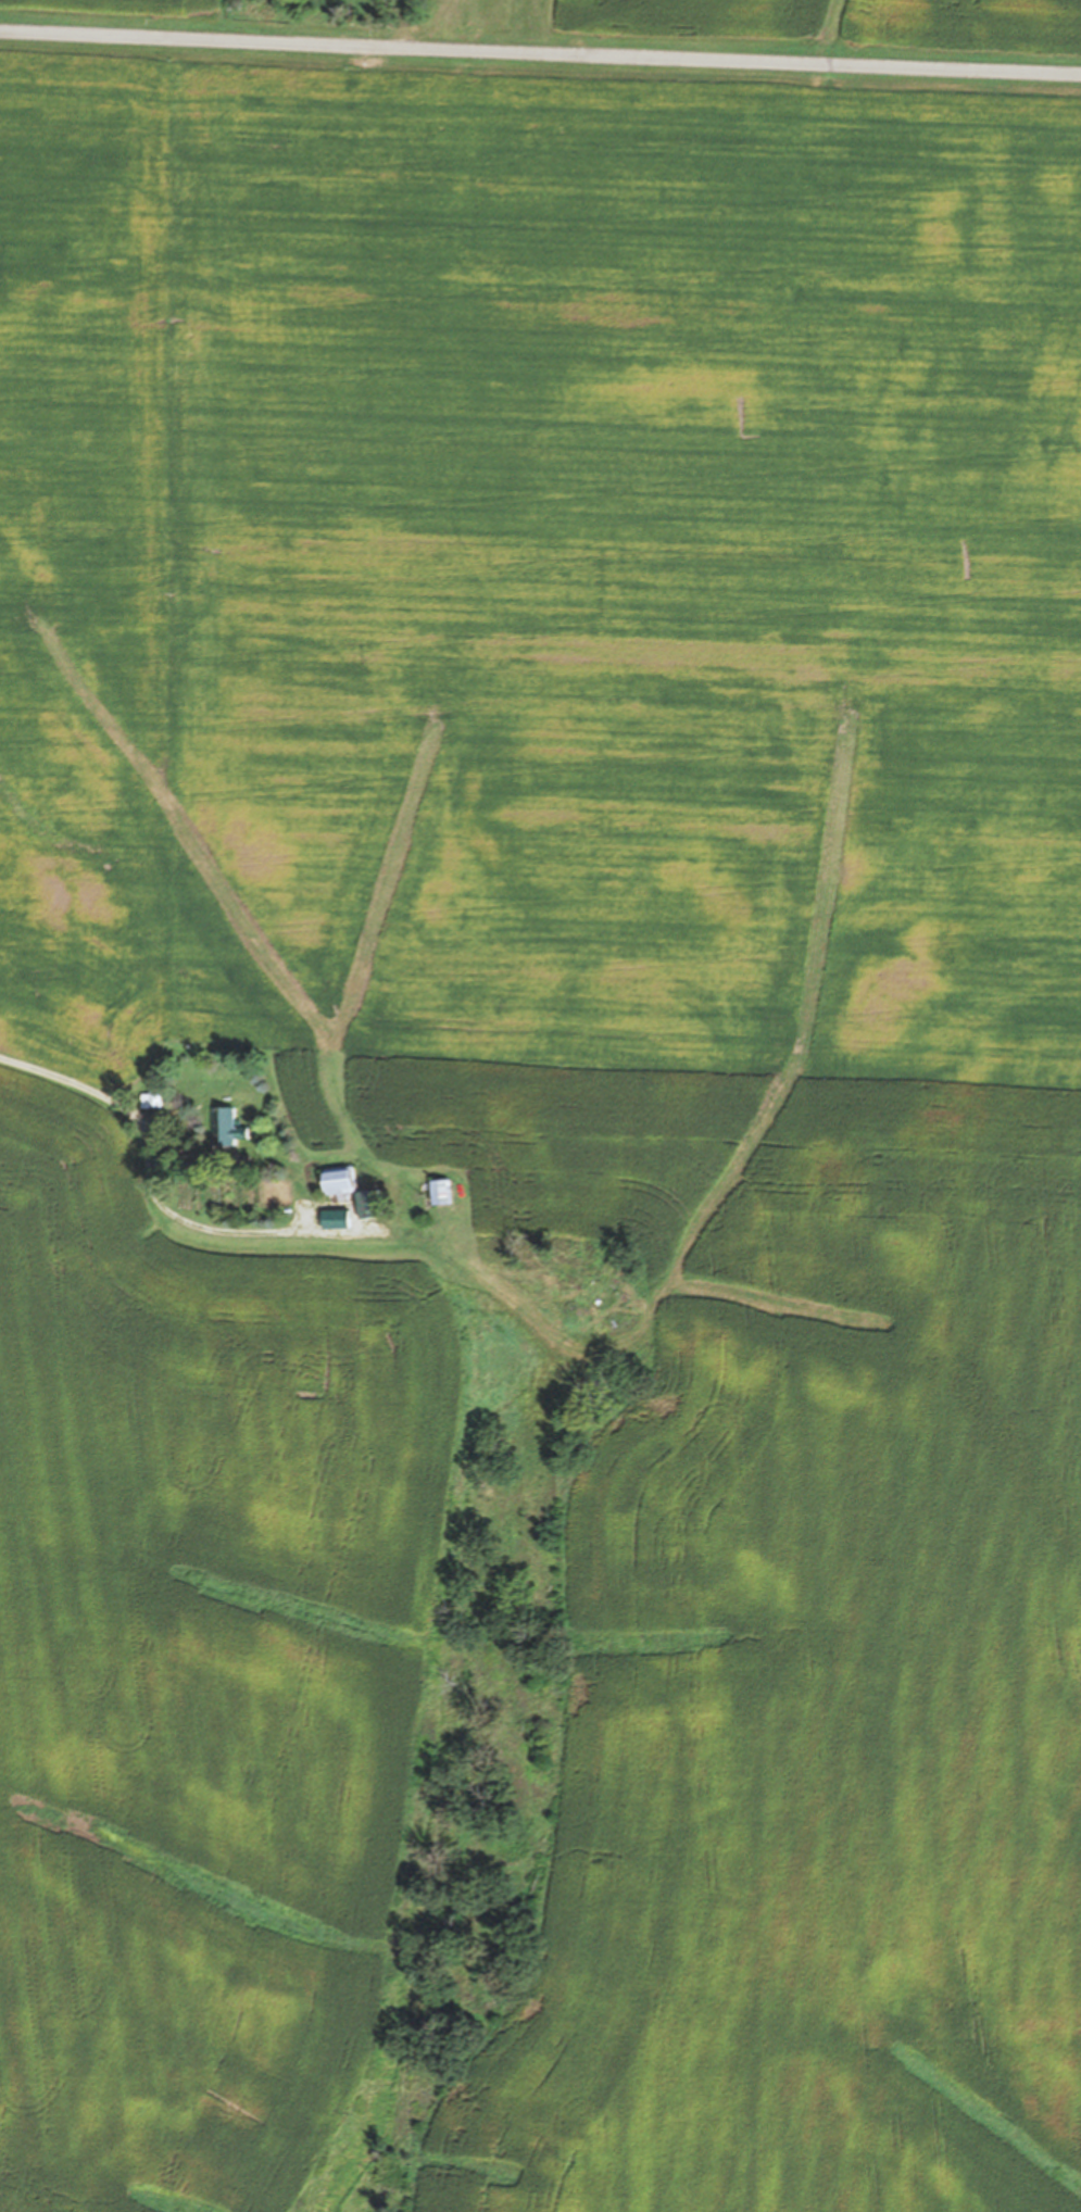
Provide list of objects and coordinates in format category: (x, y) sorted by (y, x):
road: (540, 54)
road: (109, 1042)
building: (151, 1098)
building: (226, 1128)
building: (338, 1180)
building: (440, 1191)

